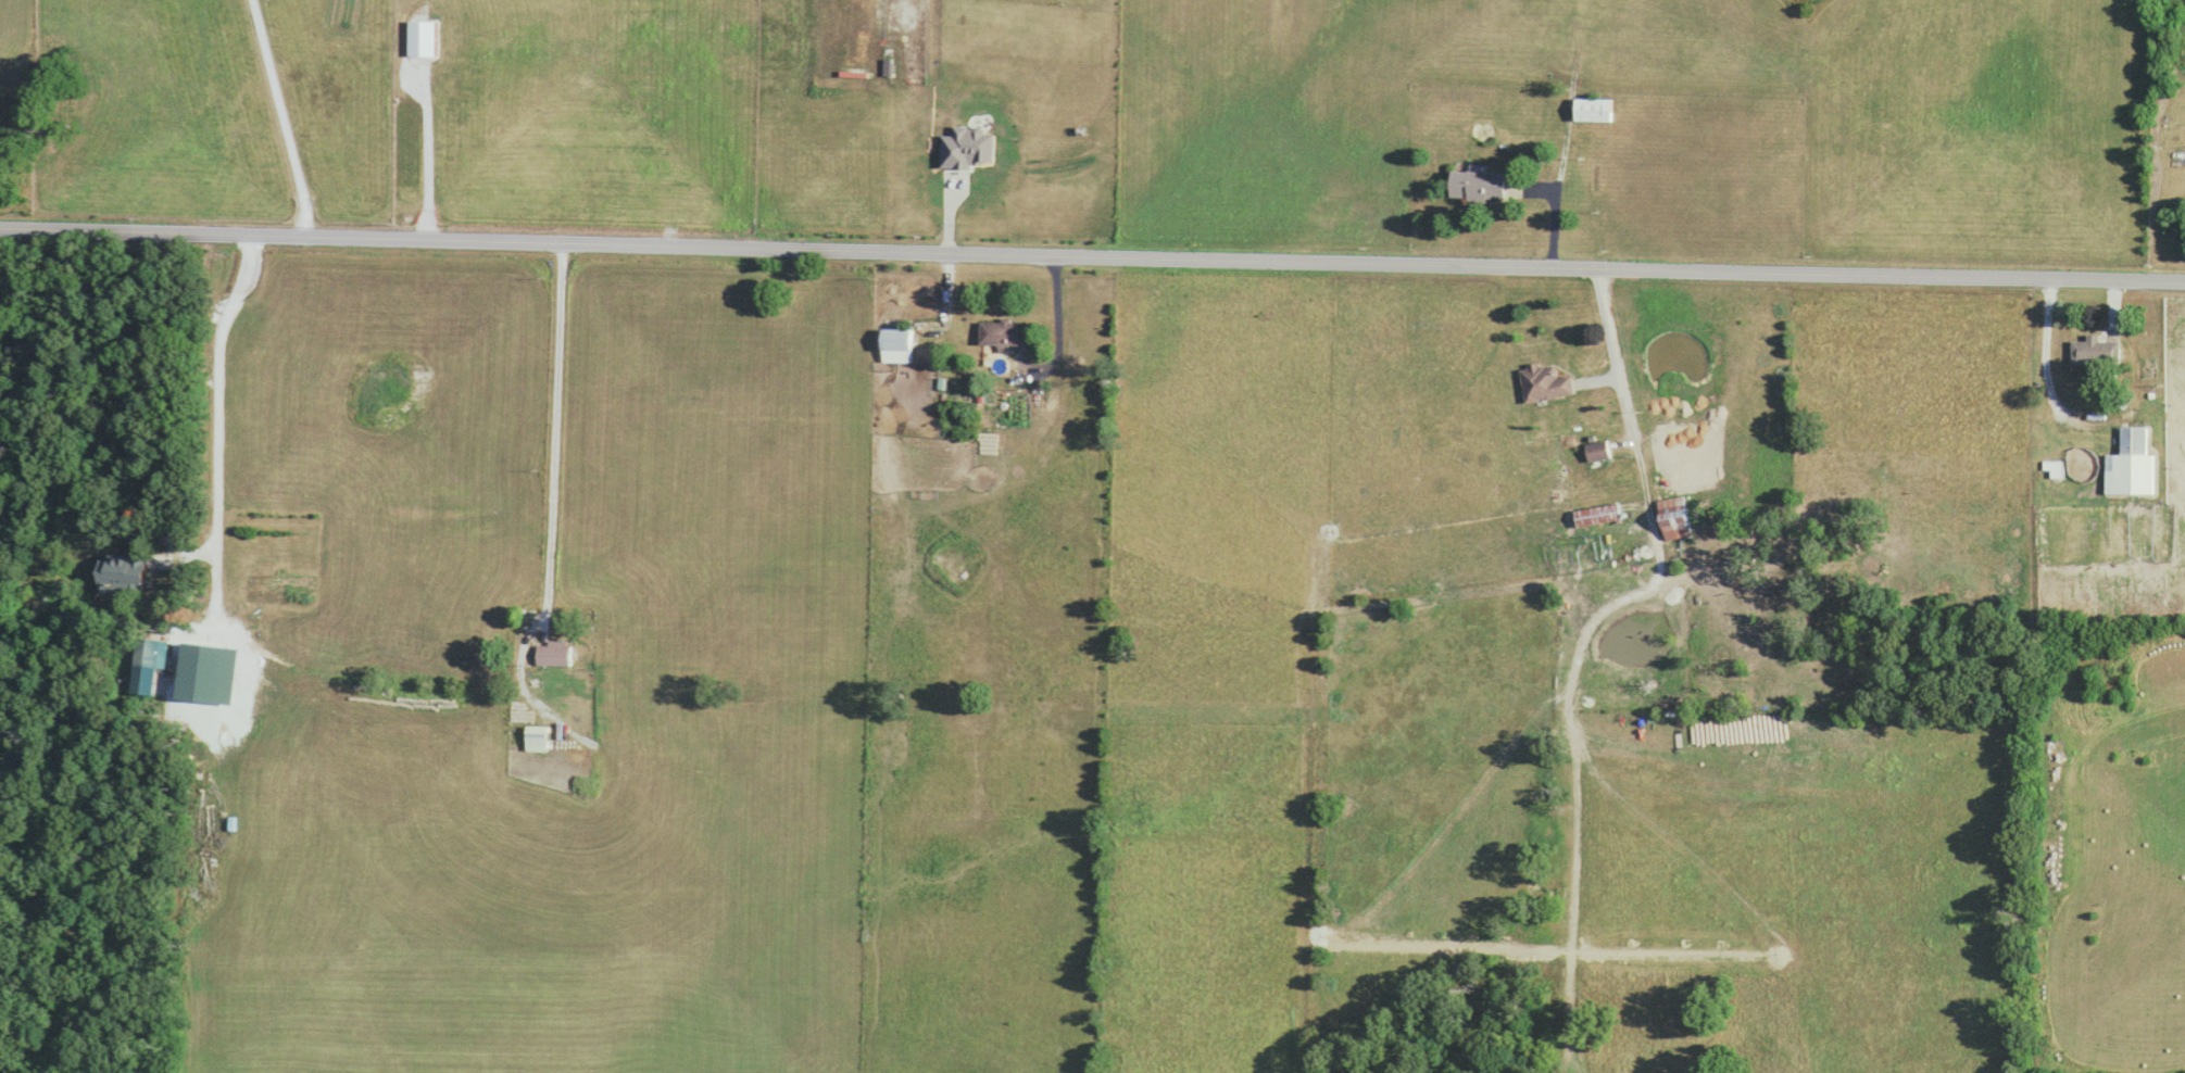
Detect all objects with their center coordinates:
building: (1592, 111)
road: (280, 116)
building: (1477, 187)
road: (1092, 257)
building: (1002, 334)
road: (1063, 337)
road: (1613, 344)
building: (896, 346)
building: (2096, 353)
building: (1543, 384)
road: (2056, 394)
road: (216, 439)
road: (558, 439)
building: (1597, 452)
building: (2131, 466)
building: (1591, 516)
building: (1673, 518)
building: (127, 573)
building: (552, 656)
building: (536, 740)

